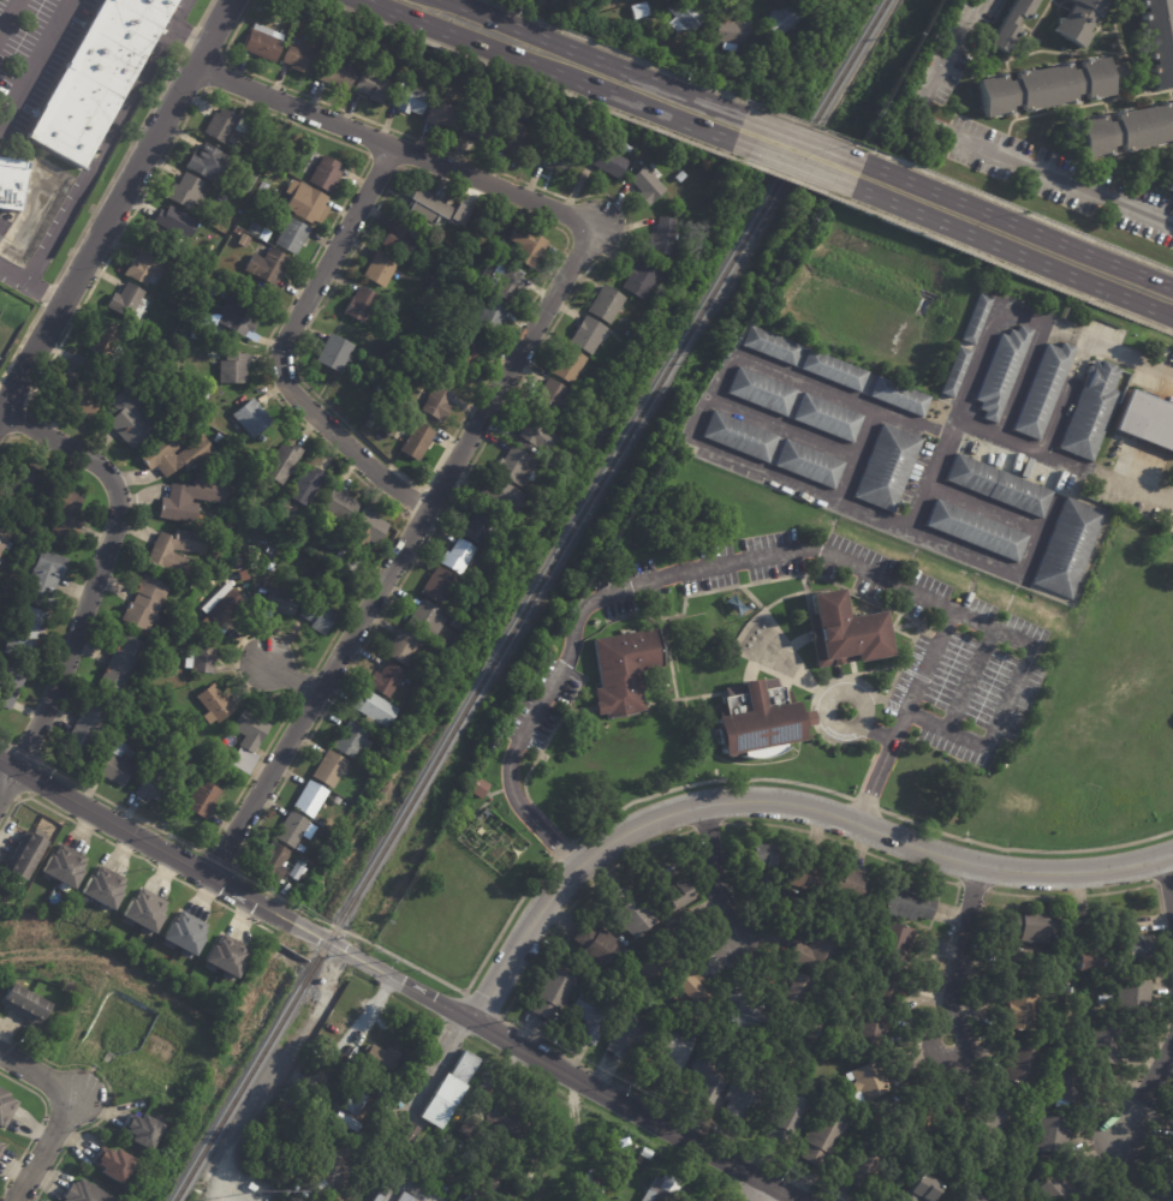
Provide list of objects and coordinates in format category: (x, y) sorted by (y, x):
road: (738, 0)
building: (284, 2)
building: (804, 2)
road: (1171, 5)
road: (5, 10)
road: (204, 12)
building: (641, 12)
building: (321, 16)
building: (684, 17)
building: (780, 20)
building: (1072, 20)
road: (1097, 23)
building: (1007, 25)
building: (647, 28)
road: (1030, 30)
road: (1097, 30)
road: (1114, 32)
building: (731, 34)
road: (189, 35)
road: (190, 36)
building: (1156, 41)
building: (262, 43)
building: (327, 48)
parking lot: (935, 48)
parking lot: (965, 50)
road: (614, 52)
parking lot: (32, 53)
road: (220, 56)
road: (593, 58)
building: (298, 59)
road: (34, 61)
road: (1136, 68)
road: (547, 70)
building: (335, 74)
building: (97, 76)
road: (523, 76)
building: (371, 86)
building: (1044, 88)
building: (409, 98)
building: (443, 114)
building: (219, 125)
road: (800, 125)
building: (480, 127)
road: (392, 130)
building: (1123, 130)
road: (103, 139)
building: (516, 139)
road: (794, 139)
building: (260, 143)
road: (393, 149)
road: (981, 149)
building: (282, 155)
road: (1133, 155)
road: (368, 156)
building: (554, 157)
building: (606, 161)
building: (207, 162)
road: (785, 163)
road: (119, 165)
parking lot: (1061, 165)
road: (1155, 169)
building: (322, 174)
building: (679, 175)
road: (778, 177)
building: (11, 178)
building: (1167, 178)
building: (246, 183)
building: (645, 185)
building: (260, 187)
building: (183, 191)
parking lot: (1060, 197)
building: (304, 203)
road: (117, 205)
building: (431, 209)
road: (1016, 209)
building: (212, 219)
building: (175, 222)
building: (471, 222)
road: (1012, 223)
building: (254, 228)
building: (236, 232)
building: (244, 234)
building: (263, 234)
building: (288, 235)
building: (660, 237)
building: (400, 239)
building: (525, 245)
road: (1007, 251)
road: (1004, 265)
building: (266, 267)
building: (143, 268)
building: (377, 269)
building: (637, 280)
building: (506, 281)
road: (30, 283)
building: (192, 285)
building: (433, 287)
road: (48, 294)
building: (123, 300)
building: (424, 301)
building: (358, 304)
building: (603, 304)
building: (236, 316)
building: (488, 317)
building: (975, 318)
building: (585, 335)
building: (103, 342)
road: (20, 343)
building: (769, 346)
building: (466, 347)
road: (281, 348)
building: (329, 351)
road: (496, 362)
building: (566, 365)
building: (231, 369)
building: (830, 371)
building: (132, 372)
building: (953, 372)
building: (1001, 372)
building: (542, 374)
road: (969, 384)
building: (77, 387)
building: (377, 388)
building: (760, 390)
building: (1042, 390)
building: (252, 392)
building: (203, 395)
building: (897, 396)
building: (549, 398)
building: (435, 404)
building: (1090, 411)
building: (126, 417)
building: (249, 418)
building: (826, 418)
building: (1147, 422)
road: (20, 423)
road: (310, 432)
building: (534, 435)
building: (739, 436)
building: (262, 438)
building: (1117, 440)
building: (415, 441)
road: (6, 443)
building: (193, 454)
building: (536, 454)
building: (1111, 455)
building: (280, 464)
building: (809, 465)
building: (513, 467)
building: (886, 468)
building: (306, 485)
building: (19, 486)
building: (998, 486)
building: (499, 495)
road: (410, 497)
building: (175, 502)
building: (335, 508)
building: (61, 515)
road: (416, 521)
building: (475, 527)
building: (363, 530)
building: (975, 531)
building: (4, 533)
building: (327, 545)
building: (1067, 548)
building: (174, 551)
road: (401, 551)
building: (250, 555)
building: (454, 557)
building: (345, 560)
road: (736, 562)
building: (252, 570)
parking lot: (778, 574)
building: (243, 575)
road: (95, 579)
building: (41, 580)
building: (435, 585)
railway: (529, 599)
building: (279, 602)
building: (144, 604)
road: (760, 605)
building: (221, 608)
building: (315, 616)
road: (661, 619)
building: (422, 620)
road: (887, 628)
road: (895, 629)
building: (842, 633)
building: (23, 634)
road: (907, 646)
building: (399, 647)
building: (200, 657)
building: (118, 664)
building: (621, 671)
building: (427, 675)
road: (836, 676)
road: (290, 679)
road: (970, 680)
building: (382, 681)
building: (8, 686)
parking lot: (967, 686)
road: (574, 697)
road: (681, 698)
road: (1004, 698)
road: (293, 699)
building: (212, 704)
parking lot: (538, 705)
building: (371, 710)
building: (757, 718)
road: (317, 722)
road: (868, 728)
building: (81, 733)
building: (383, 737)
road: (845, 740)
building: (347, 741)
road: (4, 742)
building: (245, 742)
road: (22, 751)
building: (113, 765)
road: (530, 767)
building: (327, 770)
road: (37, 781)
road: (705, 782)
building: (476, 789)
building: (154, 790)
road: (10, 794)
building: (200, 800)
building: (308, 800)
road: (779, 802)
road: (865, 803)
building: (291, 831)
road: (1023, 849)
road: (559, 850)
road: (131, 854)
building: (25, 856)
road: (216, 859)
building: (272, 861)
building: (760, 862)
building: (64, 866)
building: (293, 871)
building: (804, 877)
road: (716, 880)
building: (846, 882)
road: (1168, 882)
building: (101, 888)
building: (668, 889)
building: (905, 902)
building: (629, 910)
building: (142, 912)
building: (1030, 925)
building: (1083, 926)
building: (183, 936)
building: (1132, 940)
building: (893, 942)
building: (600, 948)
building: (816, 952)
road: (963, 952)
building: (661, 956)
building: (224, 957)
building: (1084, 957)
building: (1016, 966)
building: (320, 981)
road: (404, 982)
building: (887, 985)
building: (686, 988)
building: (549, 992)
building: (792, 992)
building: (1131, 997)
building: (1104, 999)
building: (22, 1004)
building: (1019, 1011)
building: (588, 1014)
building: (740, 1017)
building: (870, 1027)
building: (621, 1032)
building: (1106, 1044)
building: (669, 1050)
building: (108, 1058)
building: (377, 1058)
building: (339, 1064)
building: (1022, 1065)
building: (1052, 1070)
building: (705, 1077)
building: (867, 1081)
building: (1068, 1082)
road: (1147, 1088)
building: (449, 1091)
road: (109, 1094)
building: (740, 1097)
building: (347, 1100)
building: (5, 1109)
road: (67, 1111)
building: (308, 1111)
building: (504, 1118)
building: (1023, 1118)
building: (785, 1119)
building: (344, 1121)
building: (472, 1121)
building: (984, 1122)
building: (880, 1123)
road: (38, 1124)
building: (913, 1129)
building: (141, 1130)
building: (406, 1135)
building: (1054, 1136)
building: (820, 1139)
building: (0, 1142)
building: (1, 1147)
building: (864, 1163)
building: (112, 1164)
building: (494, 1166)
building: (591, 1183)
building: (975, 1184)
building: (251, 1187)
building: (478, 1188)
road: (757, 1188)
building: (446, 1189)
building: (659, 1189)
building: (921, 1189)
building: (1059, 1189)
building: (380, 1190)
building: (1161, 1190)
building: (82, 1193)
building: (969, 1196)
building: (404, 1197)

